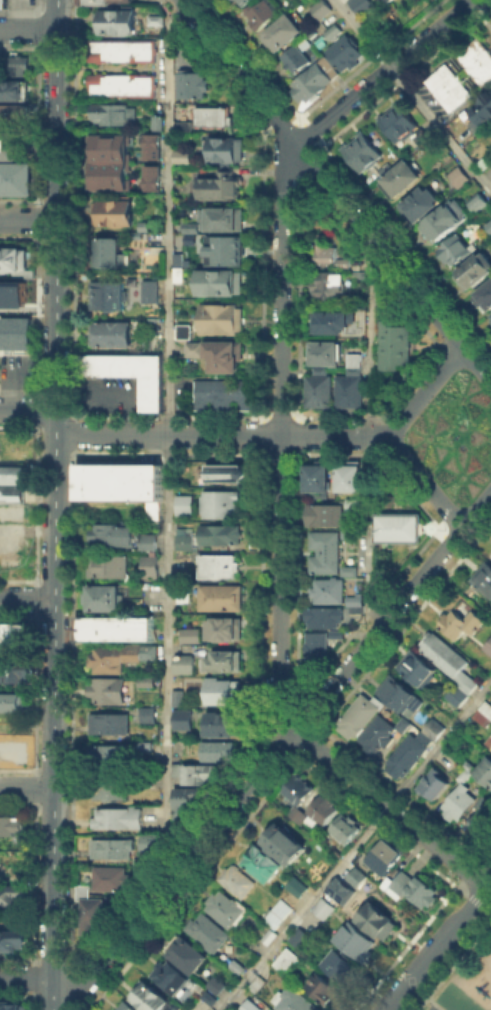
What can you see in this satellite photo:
building: (383, 0)
building: (389, 0)
road: (481, 0)
road: (490, 0)
building: (95, 2)
building: (239, 2)
building: (247, 2)
building: (3, 3)
building: (360, 4)
building: (319, 8)
building: (266, 12)
building: (154, 19)
building: (117, 20)
road: (28, 30)
building: (331, 31)
building: (284, 32)
building: (124, 51)
building: (347, 53)
building: (299, 60)
building: (1, 62)
building: (20, 64)
road: (380, 71)
building: (460, 75)
building: (315, 81)
building: (124, 85)
building: (192, 85)
building: (13, 89)
road: (412, 96)
building: (9, 112)
building: (482, 112)
building: (114, 115)
building: (216, 118)
building: (156, 121)
building: (397, 121)
building: (185, 126)
building: (13, 143)
building: (154, 148)
building: (113, 150)
building: (226, 151)
building: (363, 153)
building: (181, 155)
building: (490, 161)
building: (480, 163)
road: (319, 173)
building: (457, 175)
building: (113, 178)
building: (401, 179)
building: (17, 180)
building: (154, 180)
building: (221, 186)
building: (477, 203)
building: (420, 204)
building: (153, 211)
building: (116, 215)
road: (28, 219)
building: (228, 220)
building: (442, 223)
building: (489, 224)
building: (190, 226)
building: (140, 238)
building: (222, 250)
building: (457, 250)
building: (108, 252)
building: (330, 257)
building: (176, 258)
building: (14, 261)
building: (475, 272)
building: (178, 274)
building: (219, 283)
building: (335, 287)
building: (149, 290)
building: (12, 294)
building: (106, 294)
building: (383, 298)
building: (485, 301)
building: (489, 318)
building: (223, 320)
building: (331, 324)
building: (182, 330)
building: (15, 333)
building: (110, 333)
building: (395, 344)
building: (193, 348)
building: (326, 355)
building: (225, 357)
building: (356, 363)
road: (476, 364)
building: (134, 375)
road: (421, 390)
building: (319, 391)
building: (350, 392)
building: (225, 395)
road: (27, 408)
road: (219, 434)
road: (277, 435)
road: (166, 436)
road: (367, 438)
building: (11, 473)
building: (229, 475)
building: (320, 477)
building: (352, 478)
building: (118, 481)
road: (422, 481)
building: (11, 492)
building: (219, 502)
road: (55, 504)
building: (183, 504)
building: (357, 508)
road: (476, 508)
building: (11, 512)
building: (154, 514)
building: (327, 516)
building: (397, 526)
building: (348, 532)
building: (213, 537)
building: (114, 538)
building: (150, 542)
building: (323, 552)
building: (490, 554)
building: (148, 565)
building: (221, 567)
building: (111, 568)
building: (348, 570)
building: (484, 578)
building: (331, 592)
building: (182, 594)
road: (27, 598)
building: (103, 599)
building: (223, 599)
building: (358, 601)
building: (357, 613)
building: (326, 618)
building: (461, 624)
road: (378, 627)
building: (116, 630)
building: (228, 630)
building: (190, 634)
building: (14, 636)
building: (318, 645)
building: (489, 648)
building: (151, 654)
building: (445, 655)
building: (112, 661)
building: (226, 661)
building: (185, 664)
building: (14, 671)
building: (419, 671)
building: (148, 682)
building: (463, 691)
building: (223, 692)
building: (108, 693)
building: (176, 697)
building: (401, 698)
building: (10, 701)
building: (184, 712)
building: (485, 715)
building: (150, 716)
building: (357, 718)
building: (110, 724)
building: (227, 725)
building: (405, 726)
building: (436, 729)
building: (379, 737)
building: (489, 738)
building: (146, 747)
building: (490, 748)
building: (13, 750)
building: (220, 752)
building: (110, 755)
building: (407, 757)
building: (177, 770)
building: (485, 770)
building: (203, 775)
building: (434, 783)
building: (111, 787)
road: (27, 788)
building: (298, 790)
building: (460, 803)
building: (186, 804)
road: (388, 808)
building: (324, 810)
building: (298, 817)
building: (119, 820)
building: (482, 823)
building: (10, 824)
building: (346, 830)
building: (280, 839)
building: (151, 844)
road: (354, 844)
building: (113, 850)
building: (386, 858)
building: (8, 864)
building: (264, 865)
road: (179, 868)
building: (355, 875)
building: (113, 879)
building: (239, 882)
building: (410, 885)
building: (80, 890)
building: (339, 890)
road: (488, 890)
building: (12, 894)
building: (322, 908)
building: (228, 910)
building: (276, 913)
building: (94, 916)
building: (380, 923)
building: (209, 933)
building: (268, 935)
building: (297, 938)
building: (12, 939)
building: (356, 940)
road: (438, 945)
building: (187, 955)
building: (285, 959)
building: (336, 964)
building: (234, 966)
road: (27, 978)
building: (172, 978)
building: (255, 983)
building: (213, 984)
building: (324, 990)
building: (207, 997)
building: (154, 1001)
building: (294, 1001)
building: (12, 1005)
building: (249, 1005)
building: (126, 1007)
building: (203, 1007)

